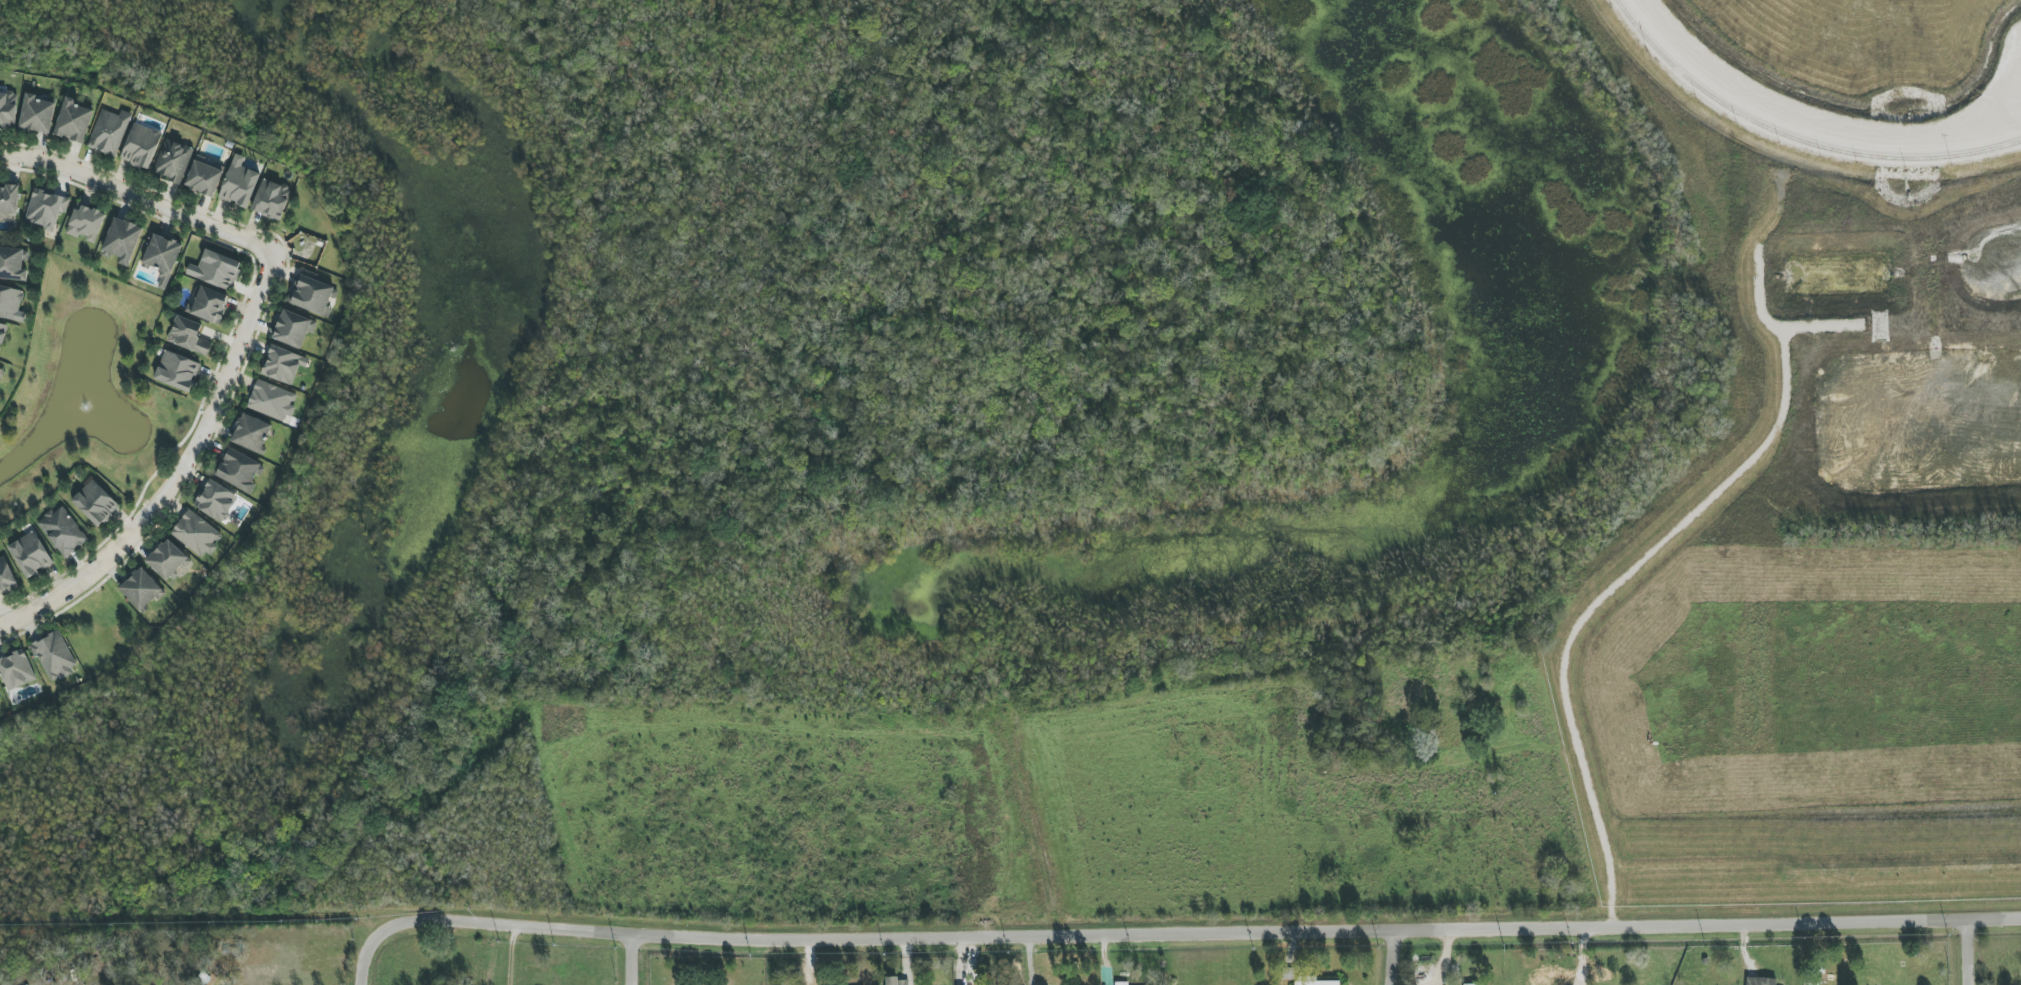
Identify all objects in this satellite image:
building: (8, 110)
building: (37, 114)
building: (73, 121)
building: (108, 132)
building: (141, 146)
building: (172, 160)
building: (203, 178)
building: (239, 183)
road: (138, 197)
building: (271, 200)
building: (9, 201)
building: (45, 209)
building: (85, 223)
building: (122, 240)
building: (162, 258)
building: (13, 264)
building: (217, 270)
building: (311, 293)
building: (10, 302)
building: (209, 305)
building: (293, 329)
building: (2, 334)
building: (188, 336)
building: (283, 365)
building: (1, 370)
building: (177, 371)
building: (271, 401)
fountain: (87, 404)
building: (251, 433)
building: (240, 471)
road: (177, 475)
building: (215, 501)
building: (95, 503)
building: (62, 531)
building: (195, 534)
building: (30, 555)
building: (167, 560)
building: (5, 576)
building: (141, 589)
building: (53, 656)
building: (16, 670)
road: (1546, 687)
building: (0, 698)
road: (1461, 761)
road: (1593, 839)
road: (474, 919)
road: (1325, 930)
road: (1973, 951)
road: (509, 953)
road: (1398, 957)
road: (629, 959)
building: (897, 981)
building: (1312, 981)
building: (1760, 981)
building: (1121, 983)
building: (1469, 984)

